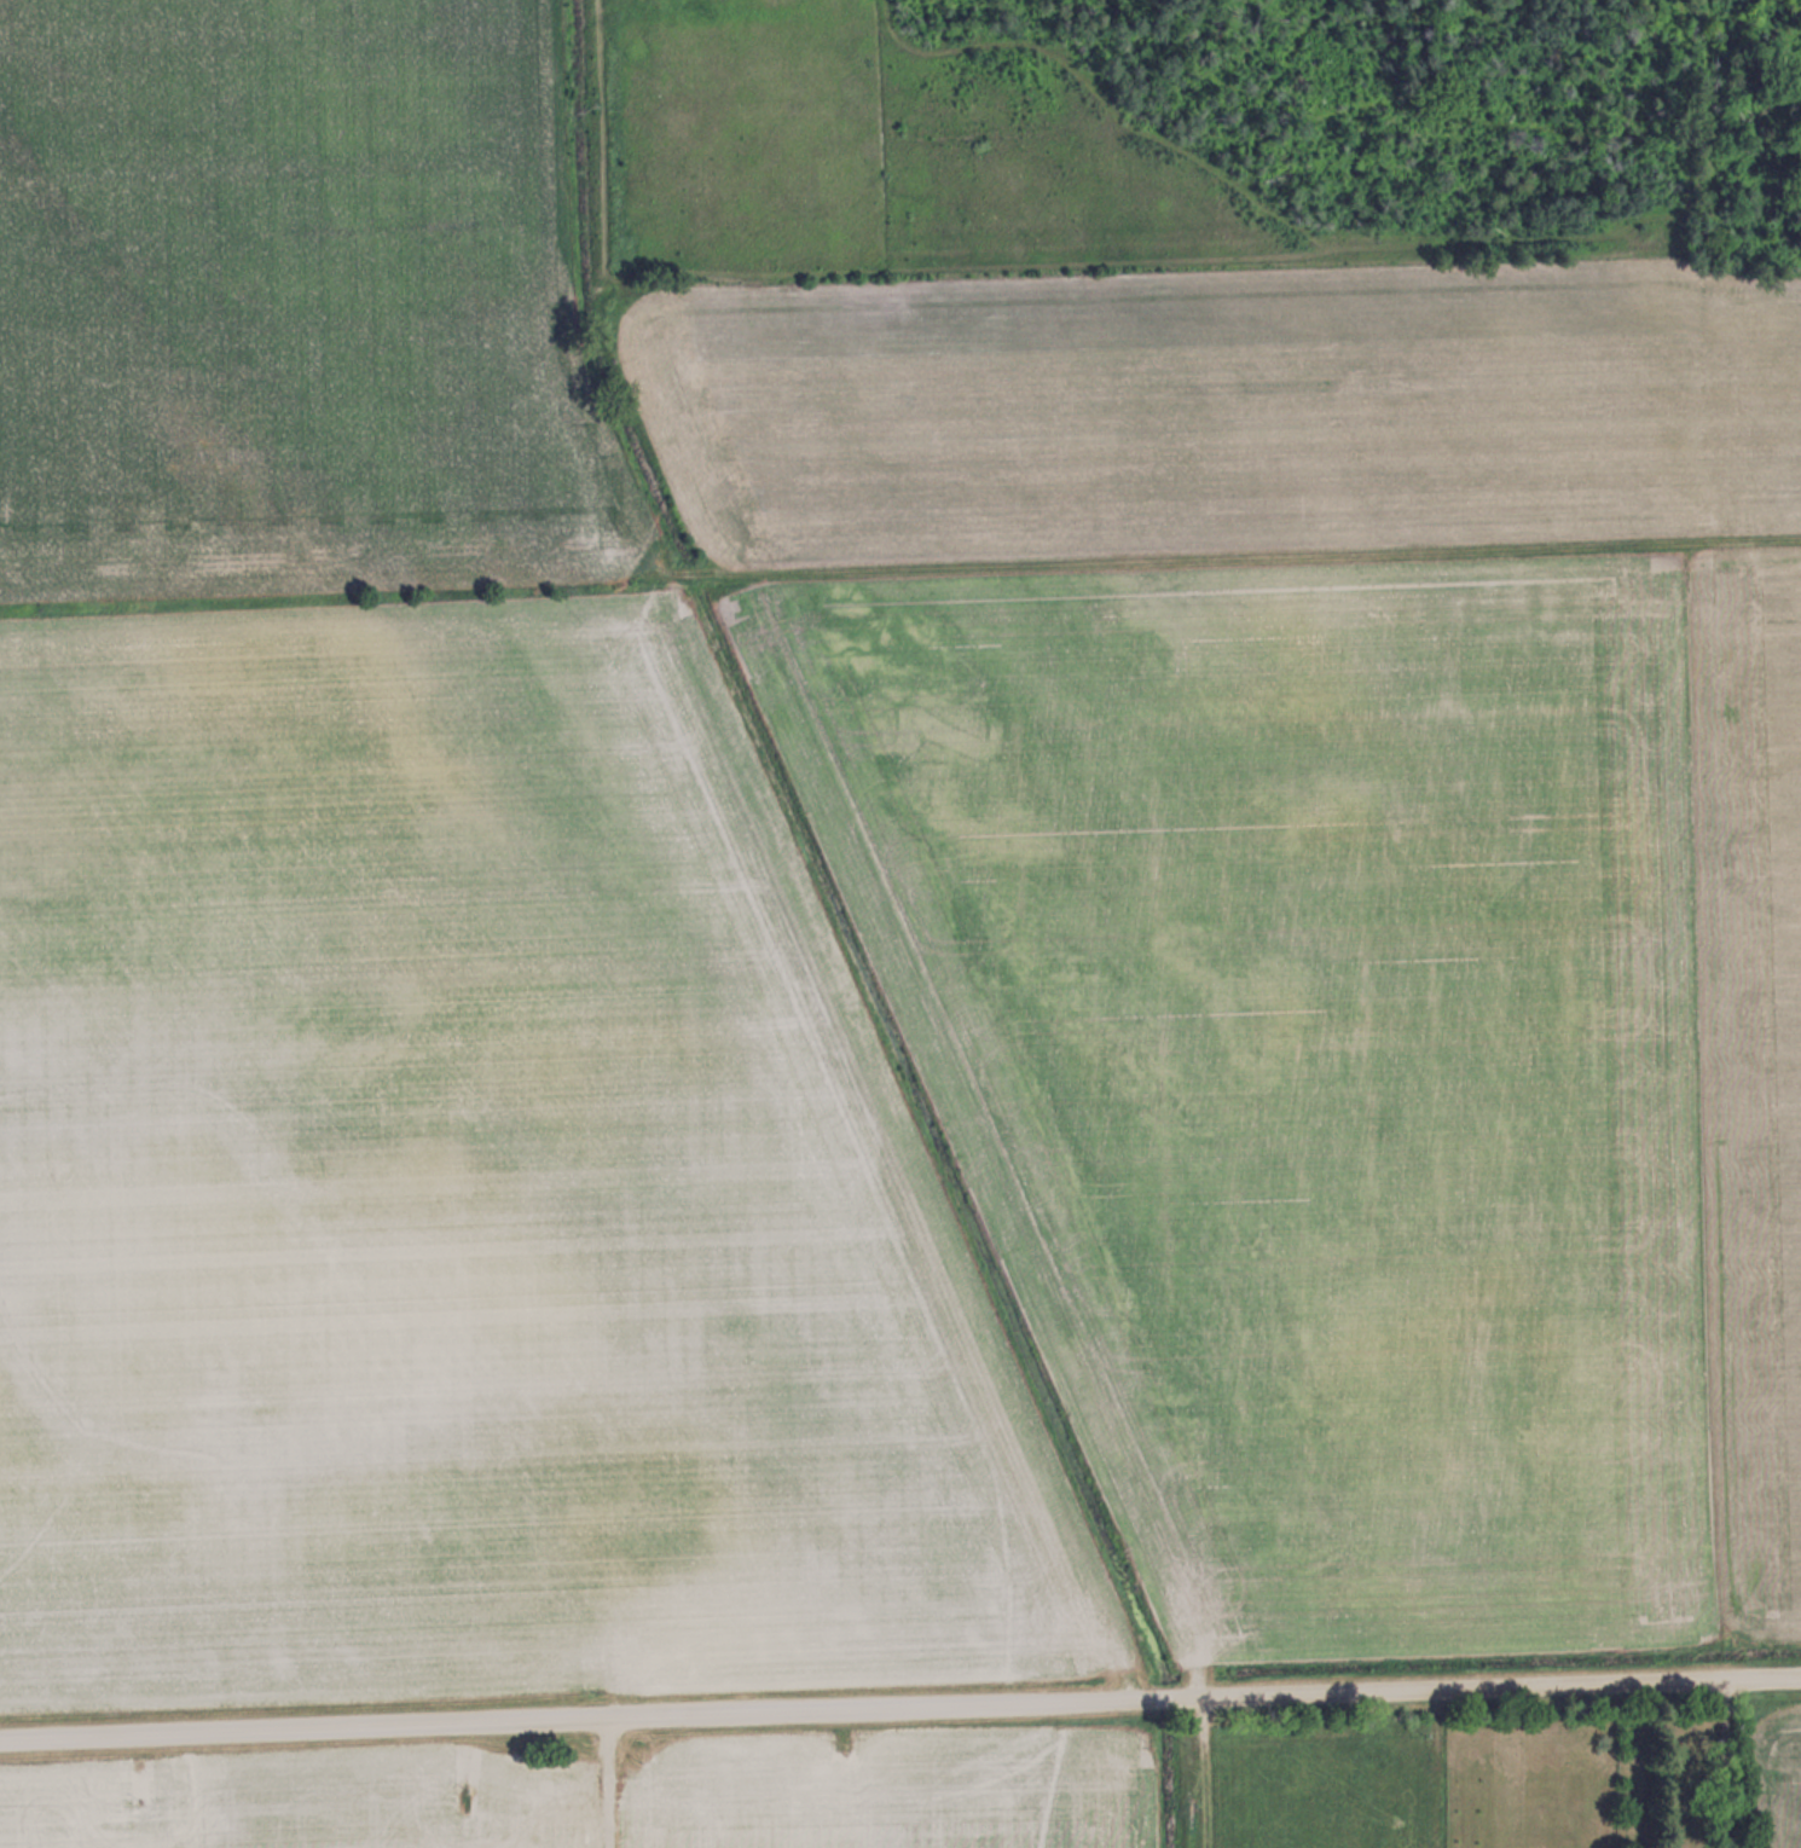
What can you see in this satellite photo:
road: (899, 1704)

